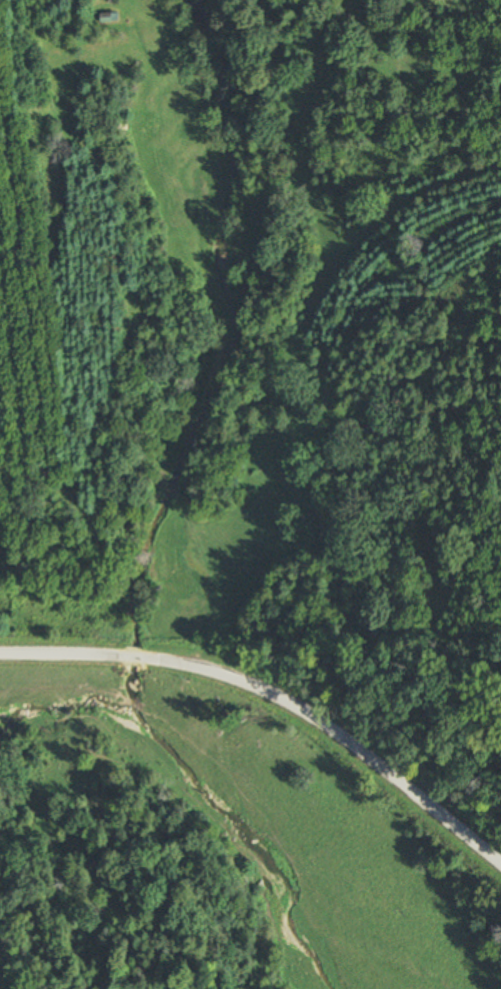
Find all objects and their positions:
road: (275, 697)

